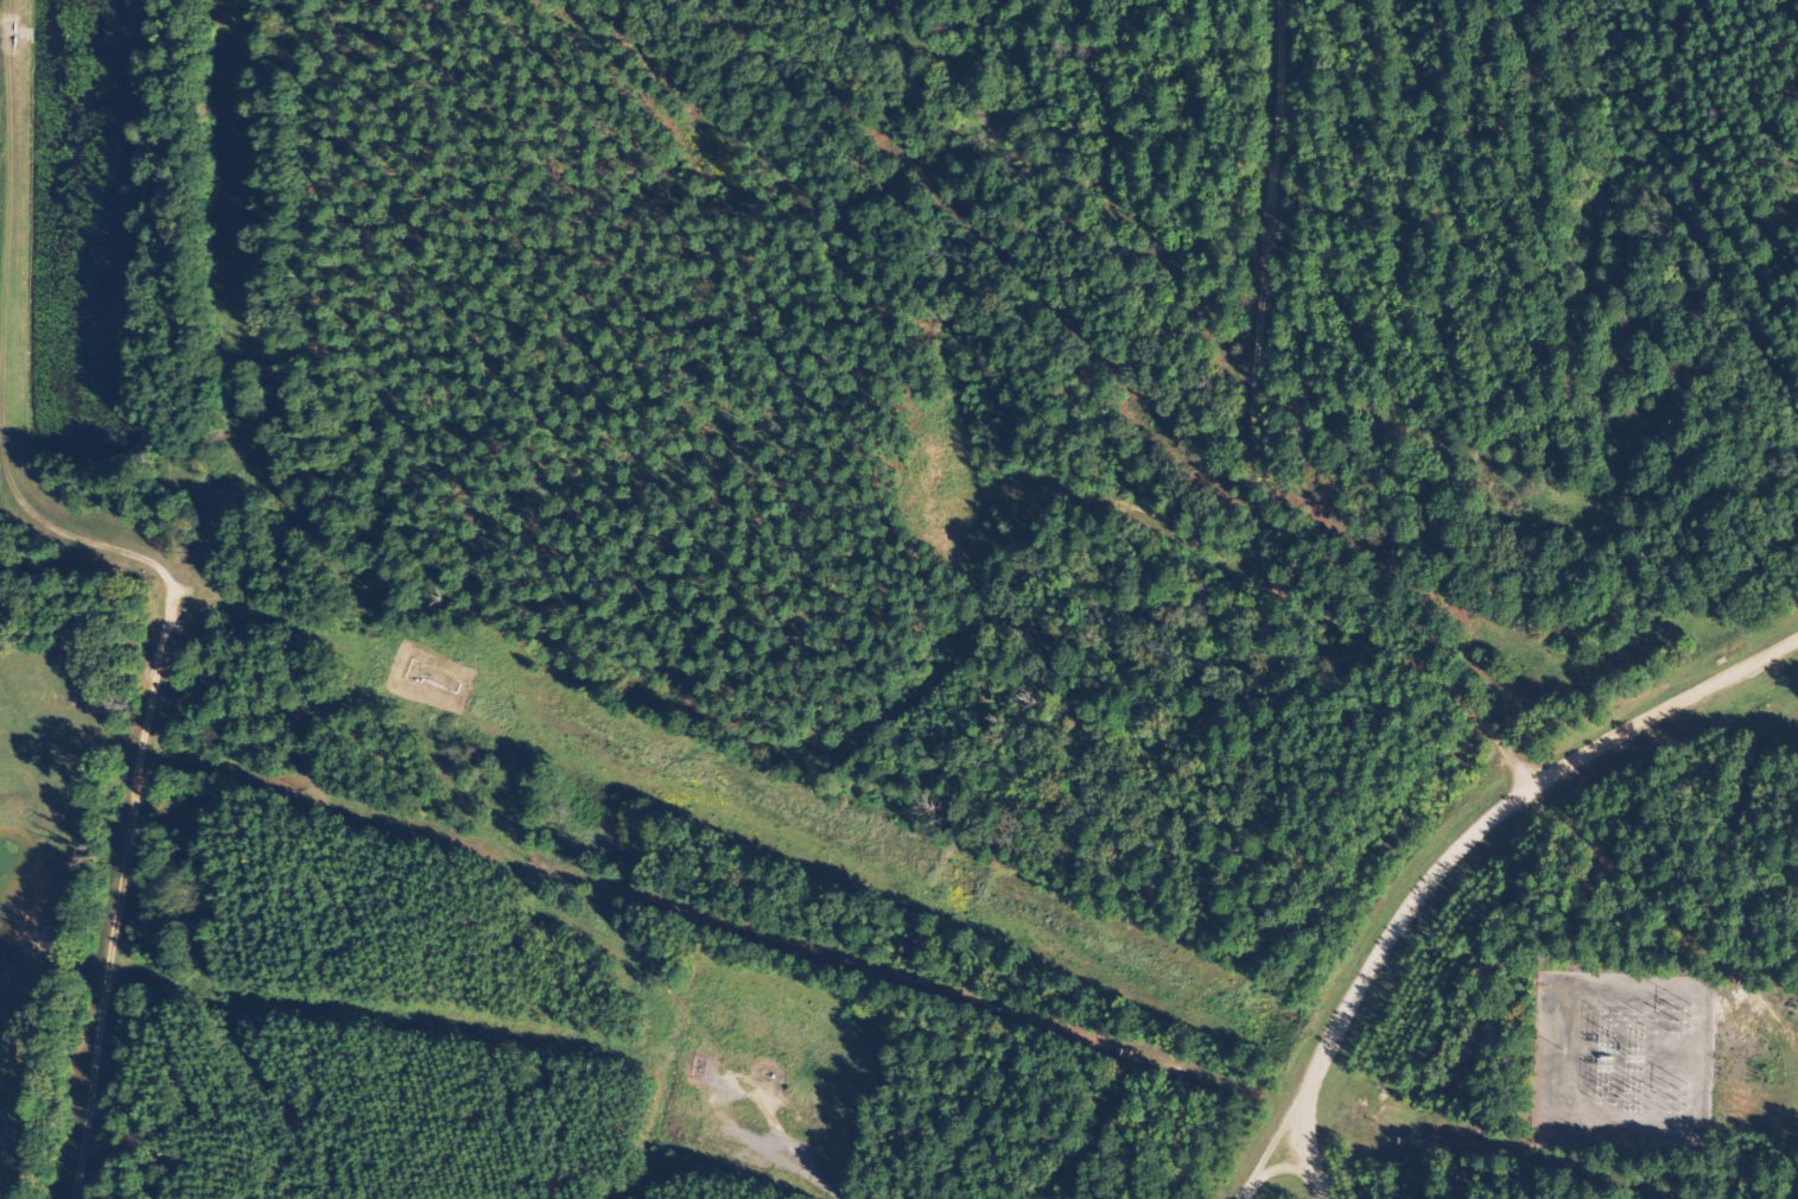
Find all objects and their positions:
road: (1459, 846)
power tower: (1681, 1016)
power substation: (1621, 1059)

